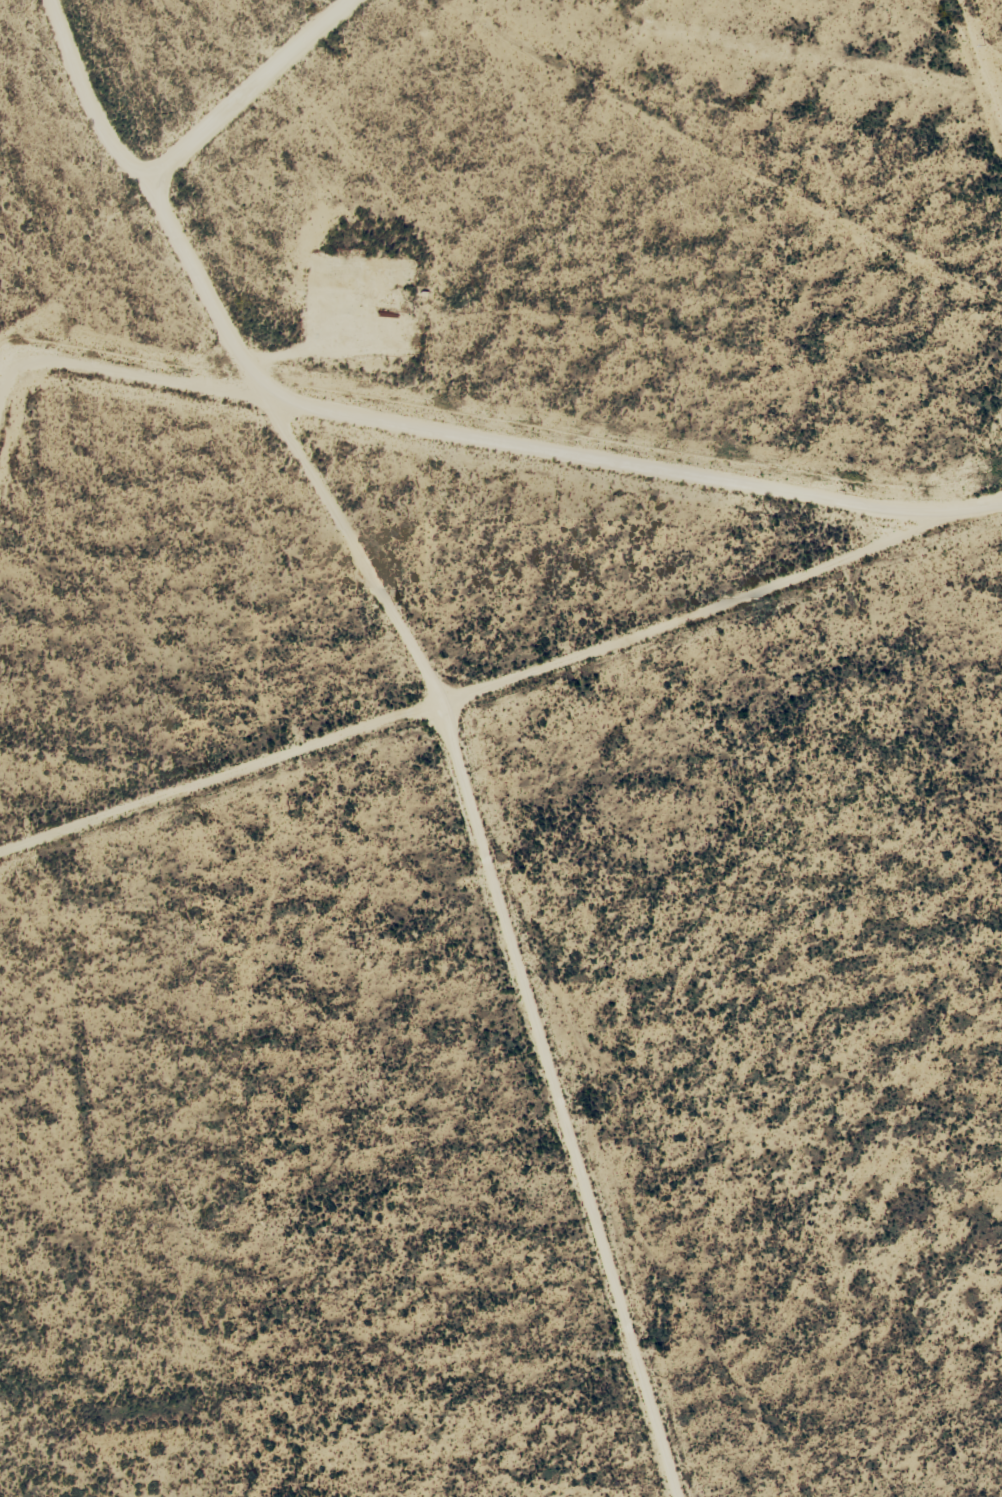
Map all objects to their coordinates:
road: (499, 691)
road: (480, 804)

